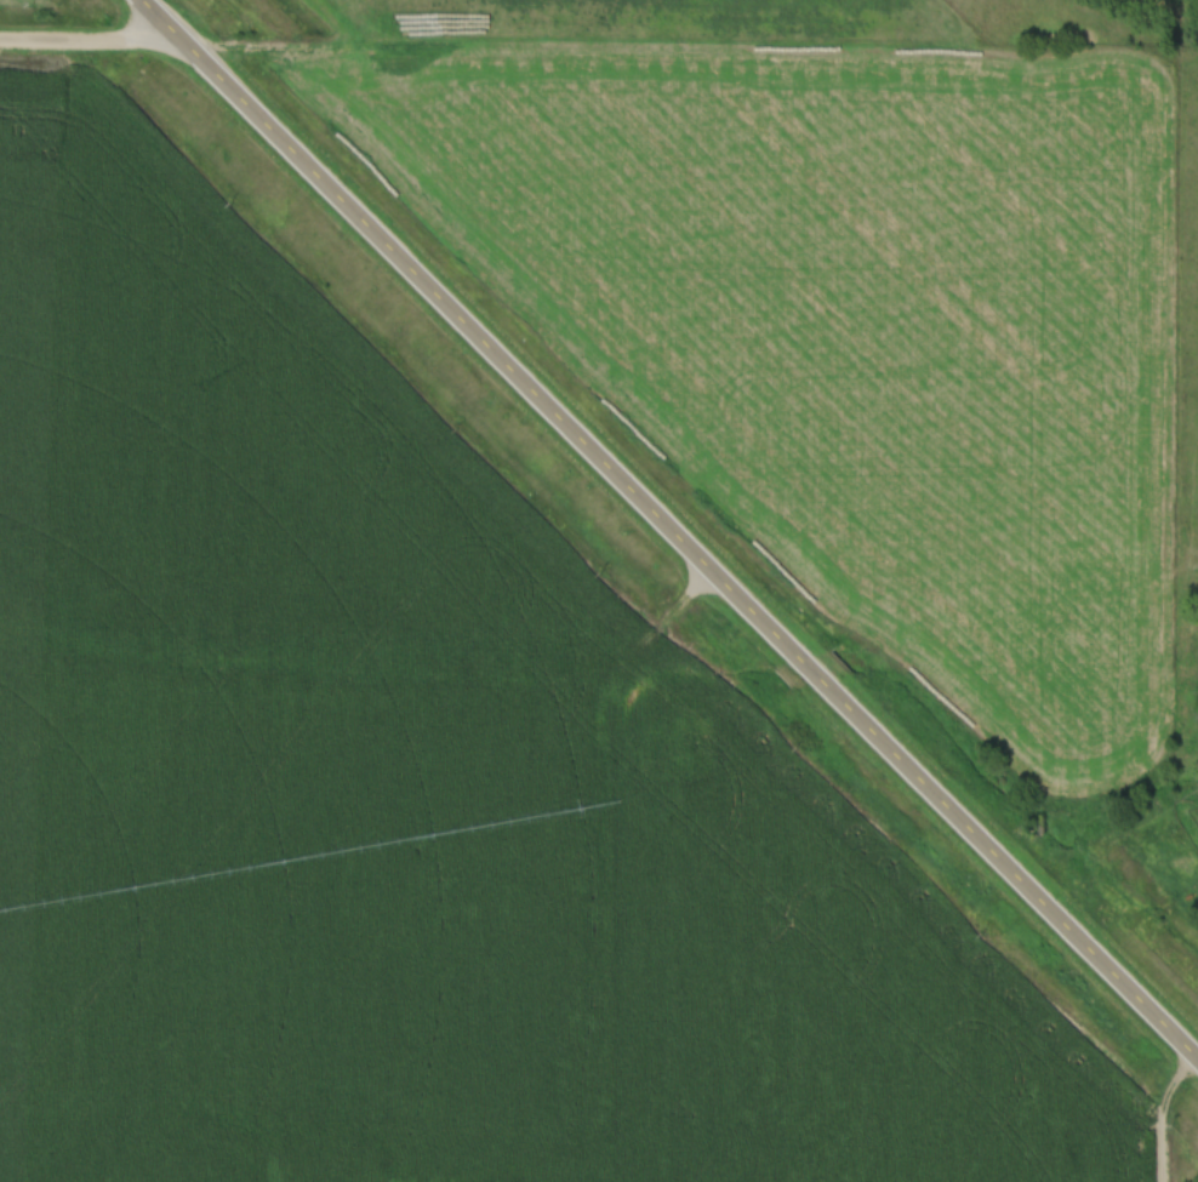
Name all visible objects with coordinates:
road: (91, 41)
road: (669, 527)
building: (468, 1150)

